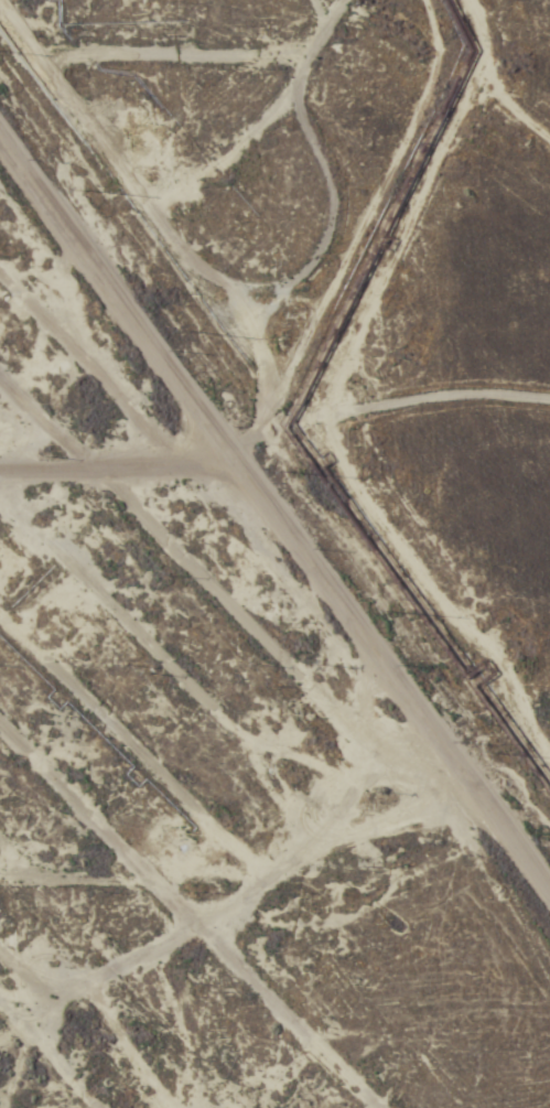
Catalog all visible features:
road: (173, 169)
road: (132, 313)
road: (332, 575)
road: (231, 1067)

